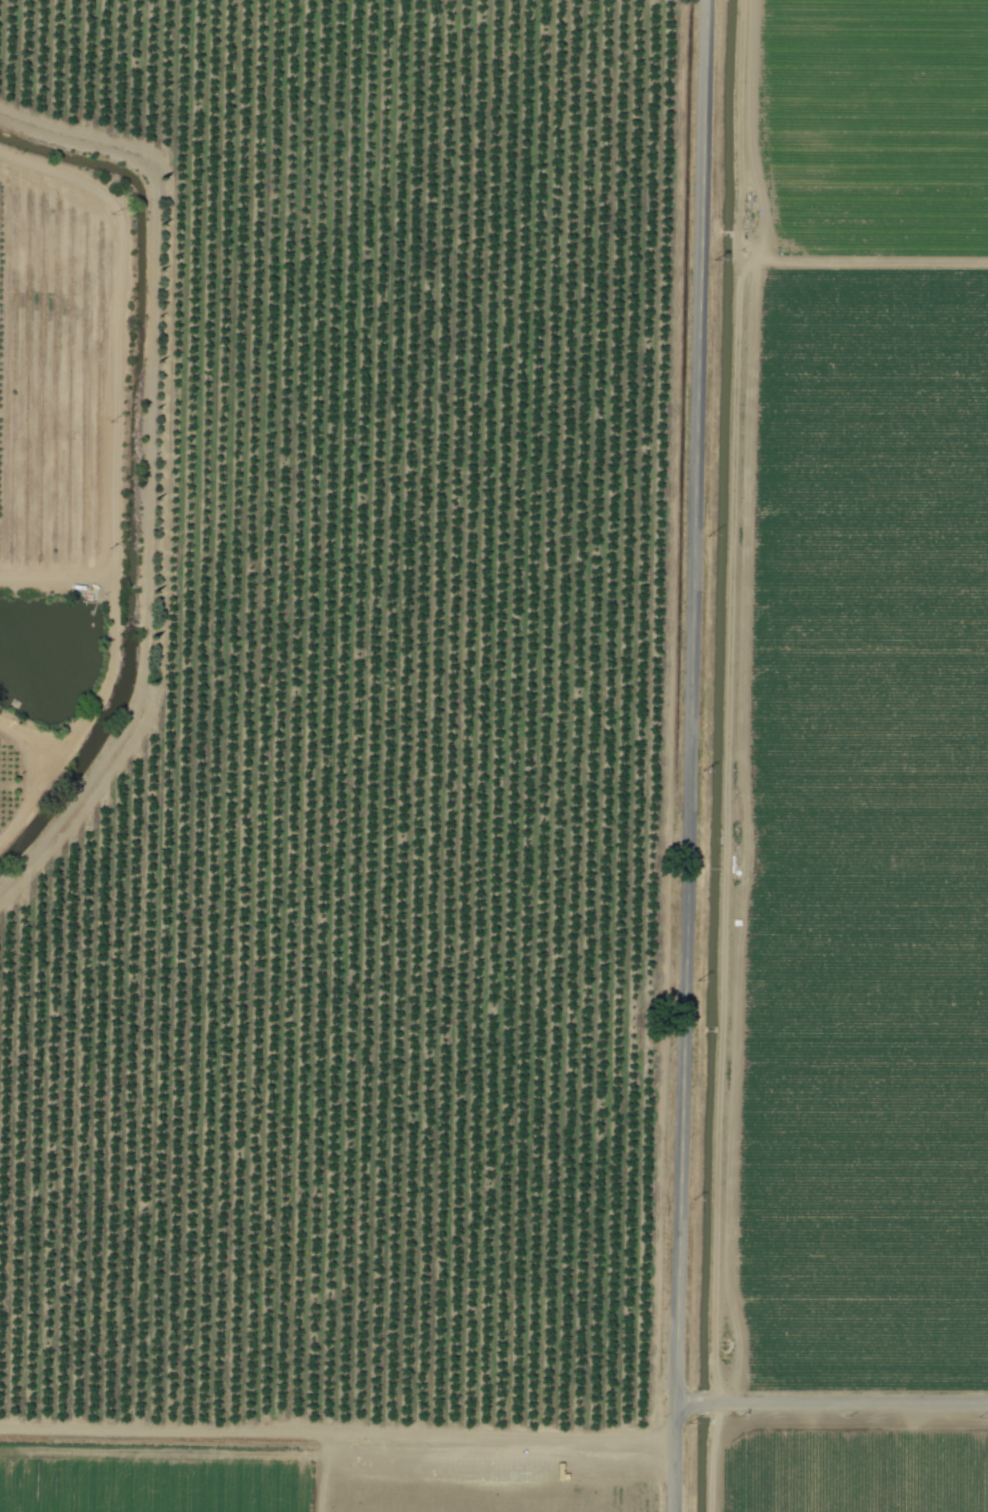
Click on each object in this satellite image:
road: (690, 755)
road: (832, 1409)

